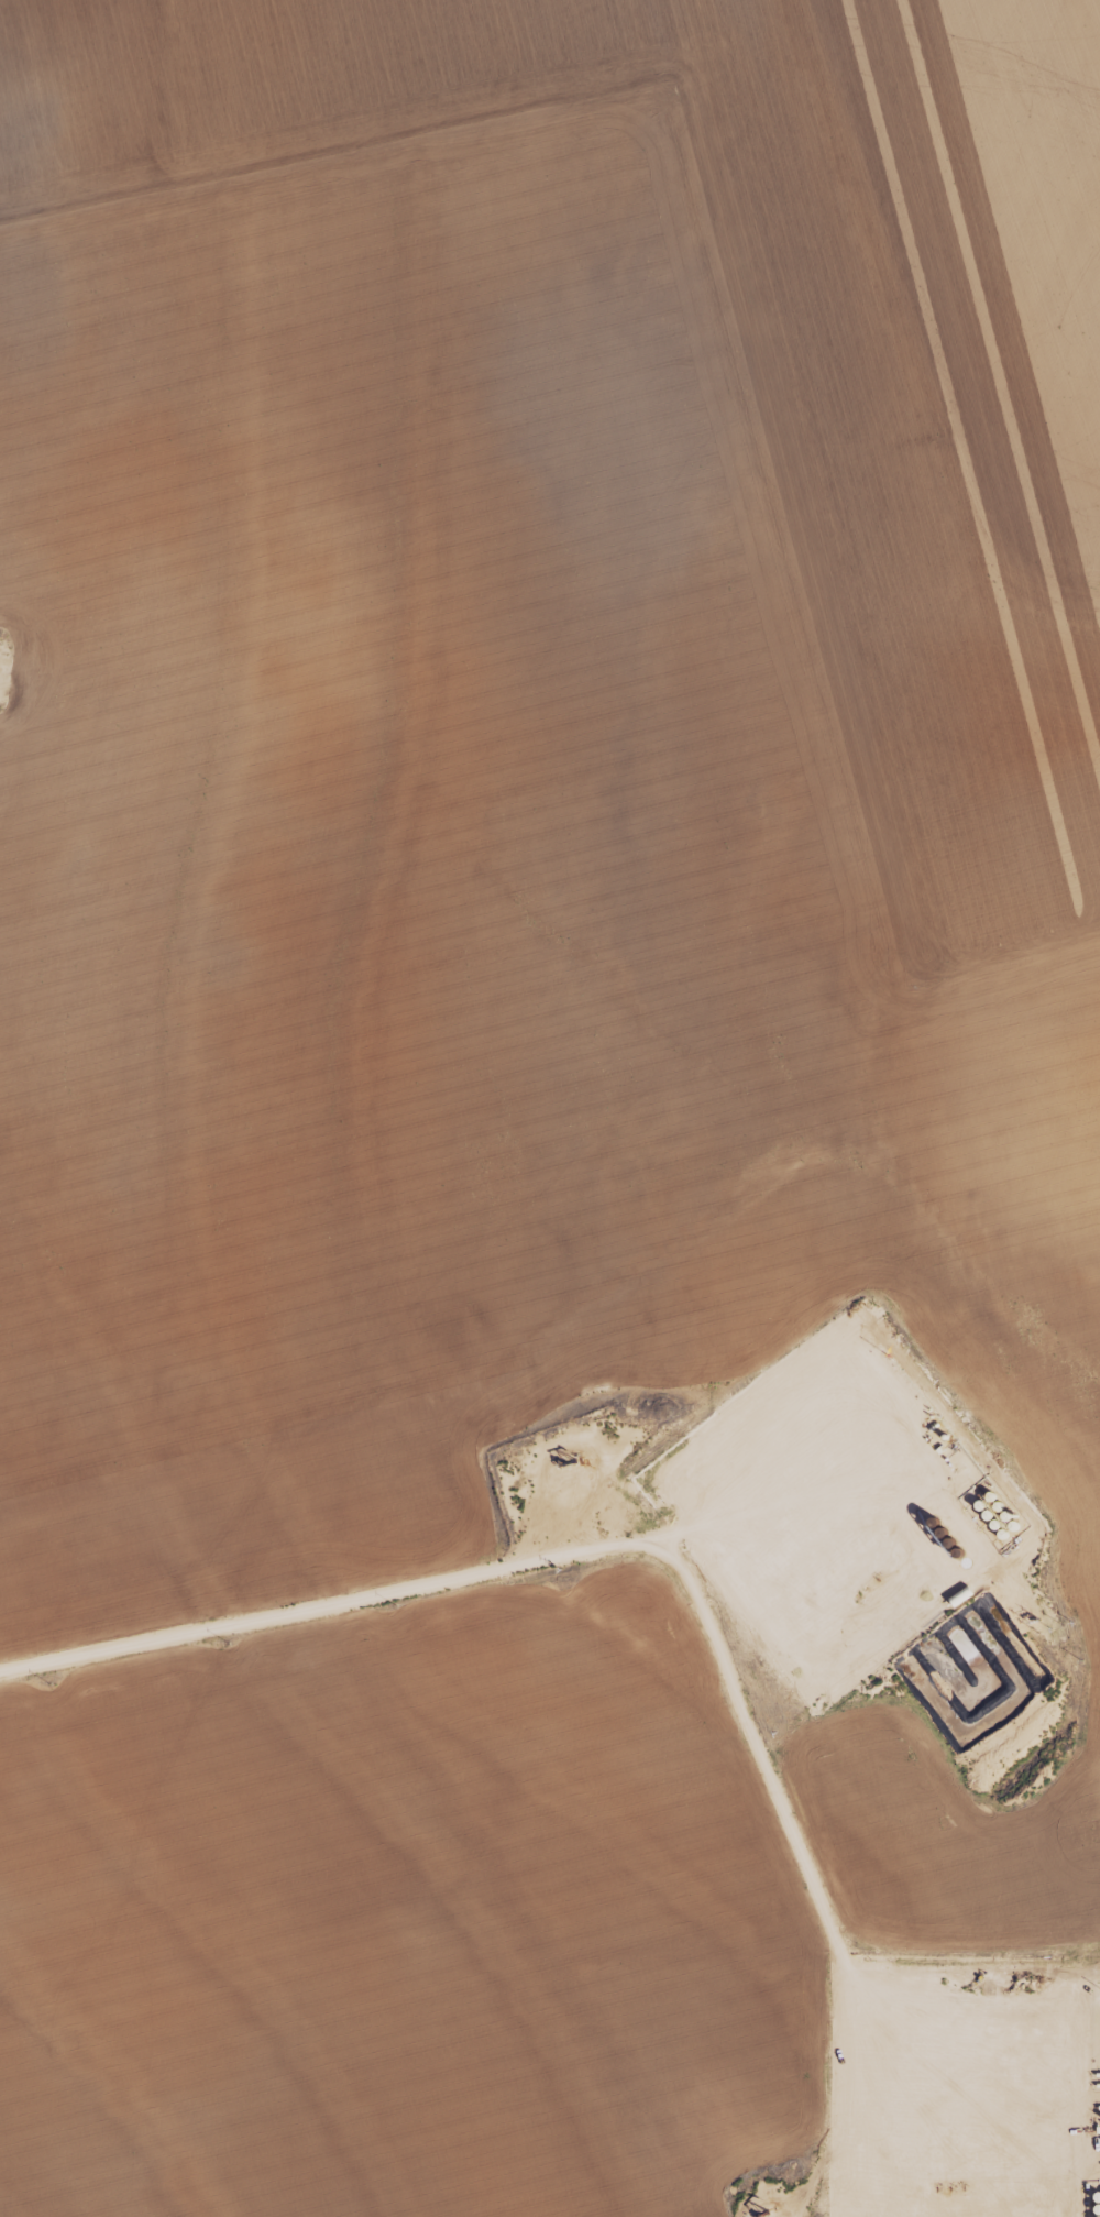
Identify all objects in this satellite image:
road: (471, 1578)

